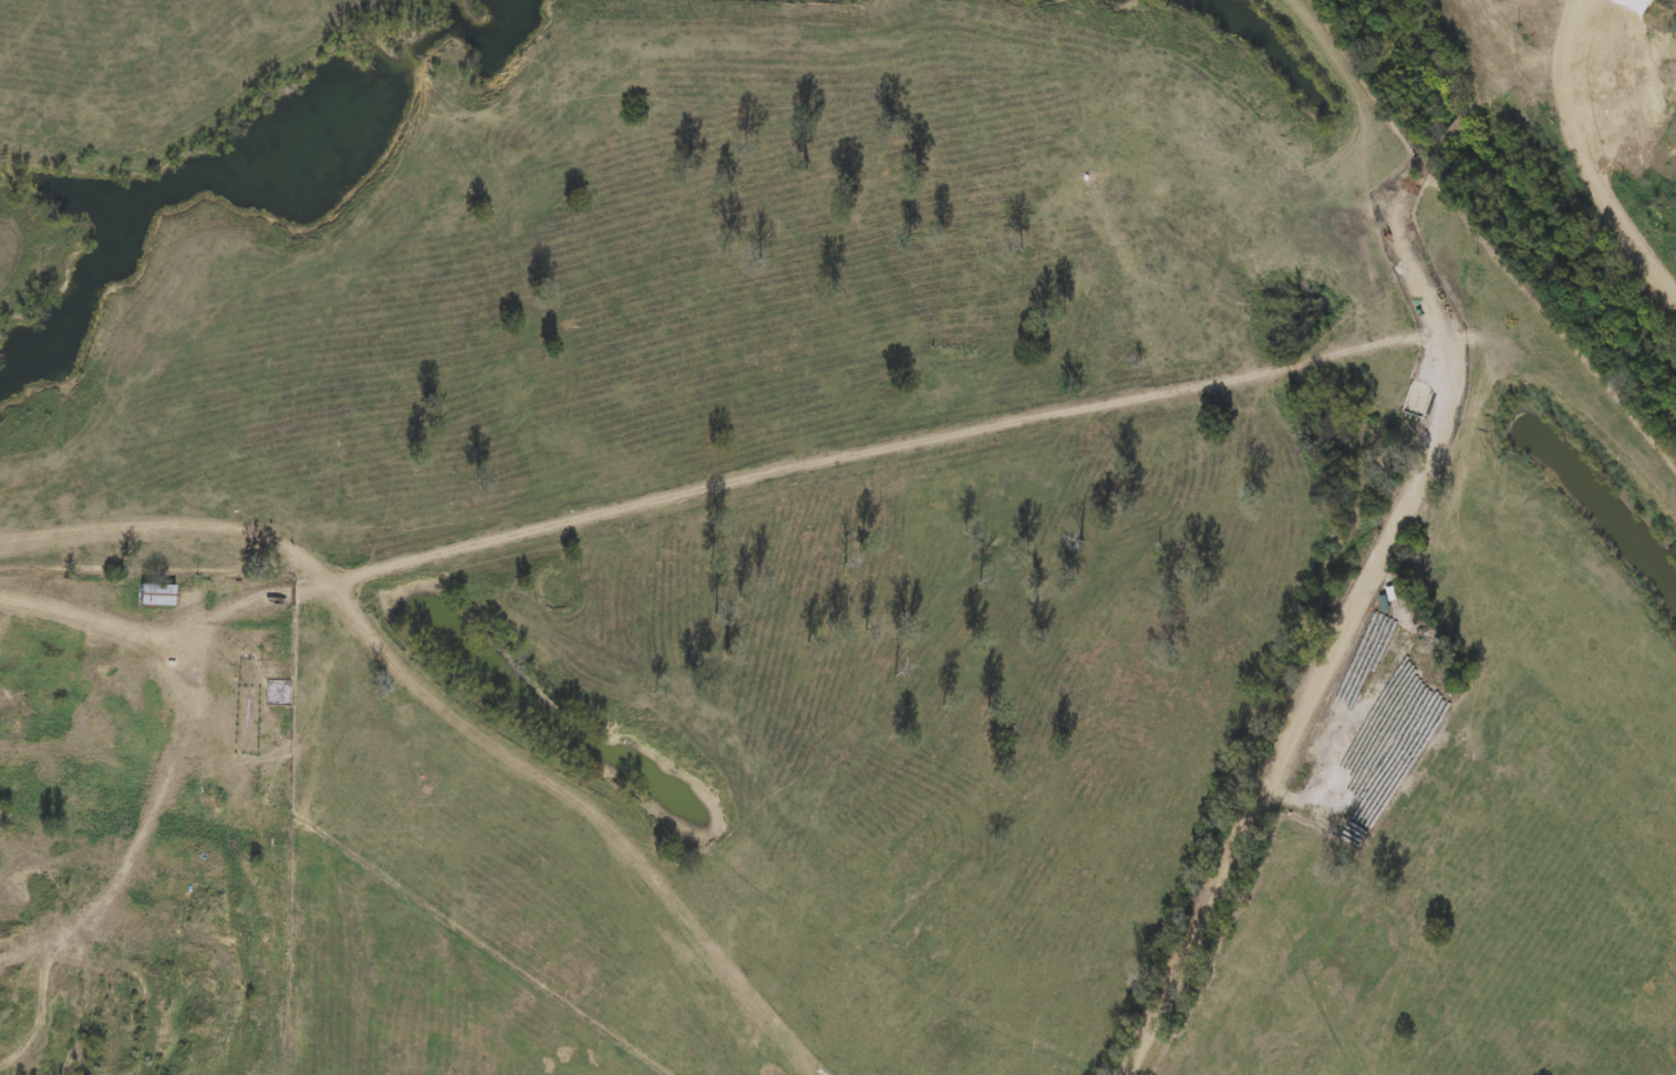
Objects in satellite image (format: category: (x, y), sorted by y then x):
road: (1572, 40)
road: (1604, 185)
road: (840, 462)
building: (159, 591)
road: (1338, 647)
road: (163, 788)

